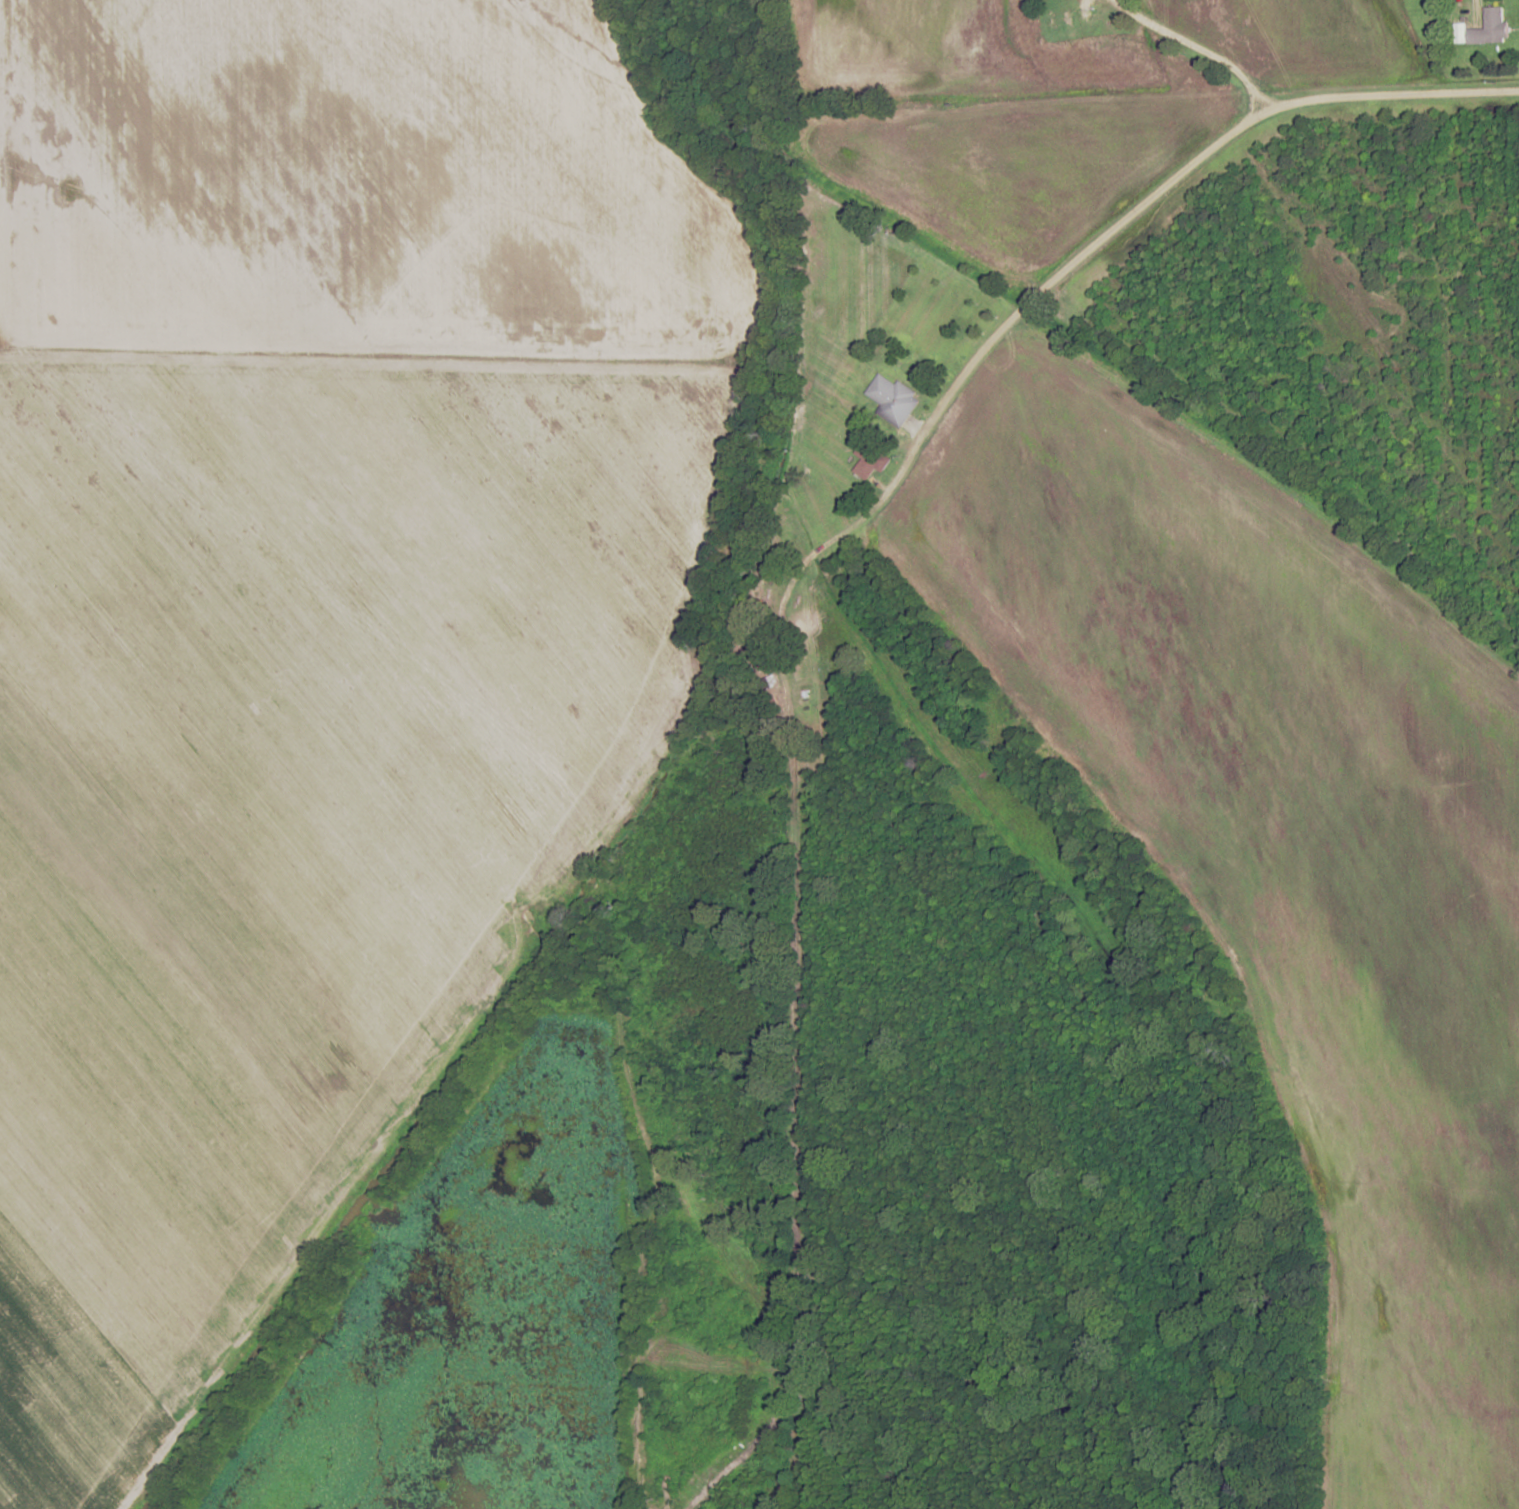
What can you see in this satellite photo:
building: (1060, 18)
building: (1491, 26)
road: (1150, 195)
building: (892, 398)
building: (869, 460)
road: (1356, 1203)

